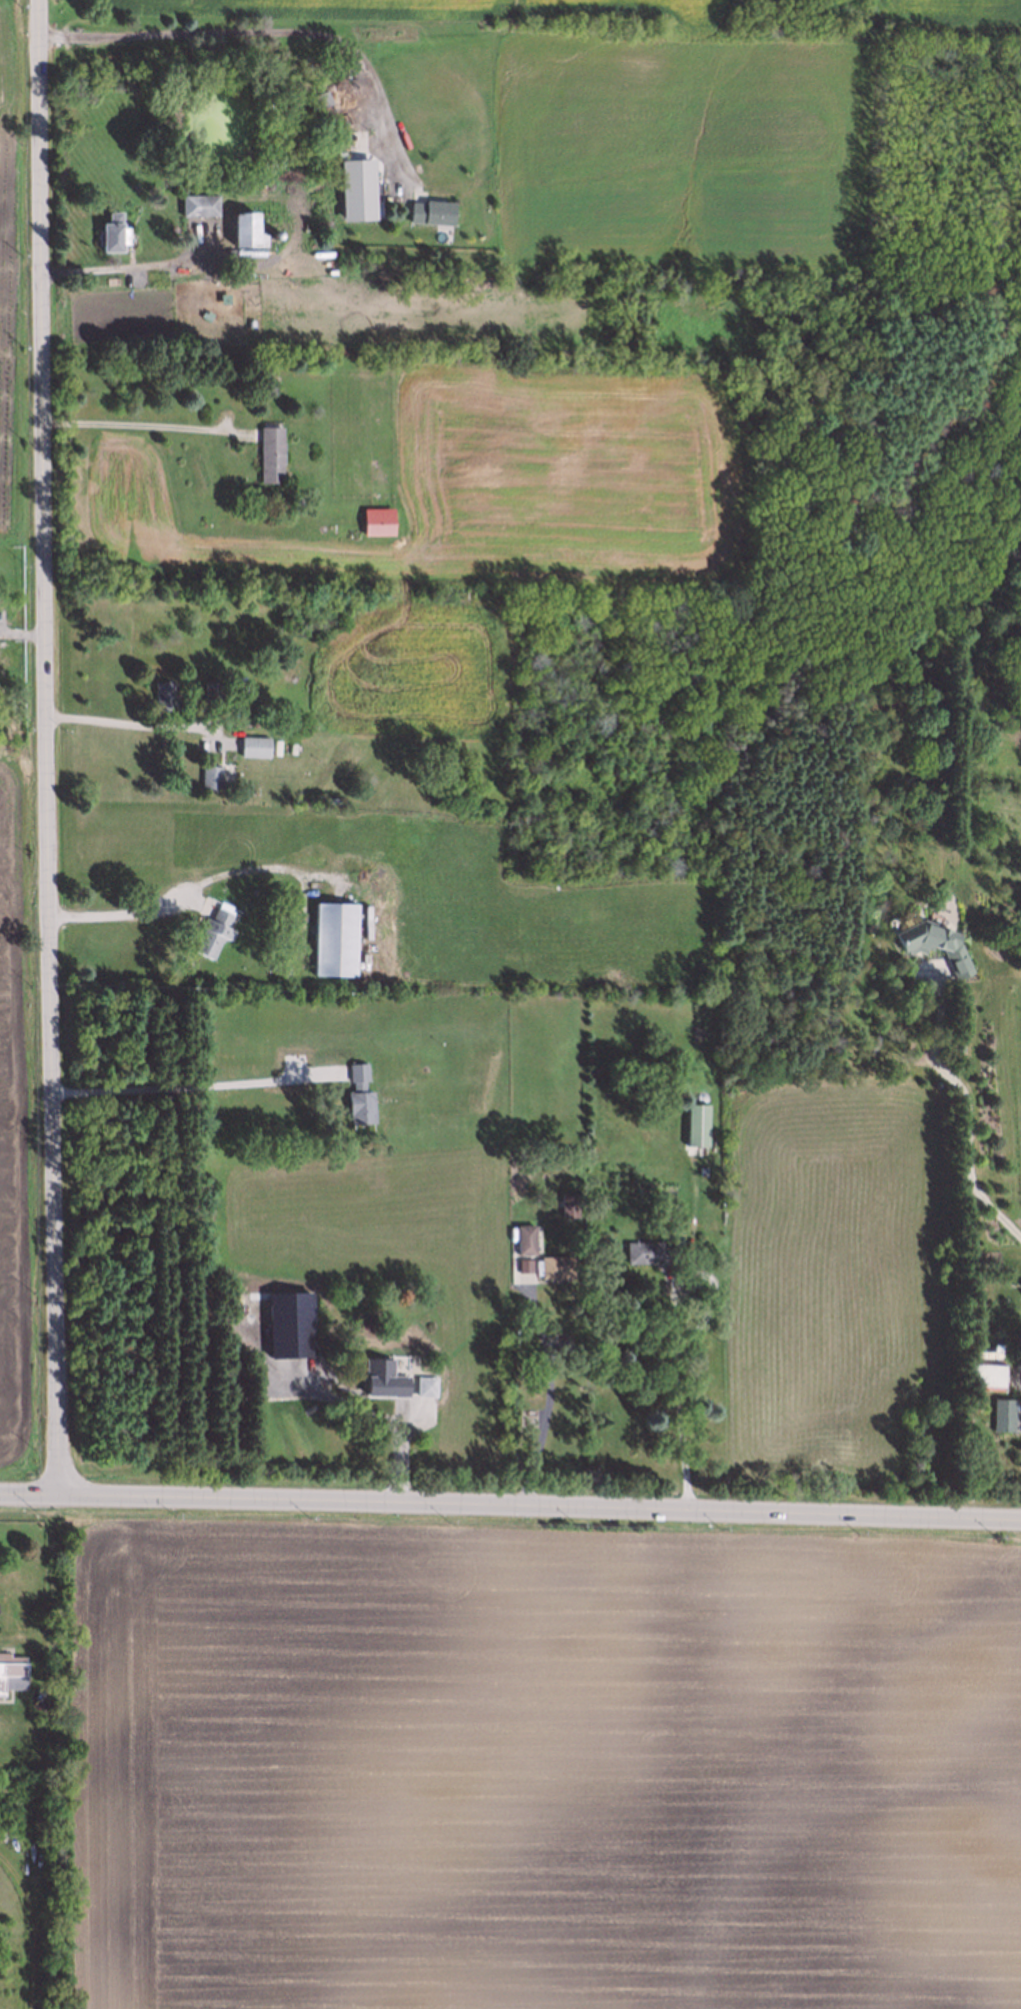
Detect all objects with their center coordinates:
road: (250, 34)
building: (321, 100)
building: (352, 107)
building: (342, 172)
building: (199, 206)
building: (428, 211)
building: (244, 229)
building: (273, 231)
building: (110, 233)
road: (122, 268)
road: (142, 425)
building: (267, 453)
building: (369, 524)
building: (240, 687)
building: (210, 690)
building: (161, 696)
building: (261, 710)
road: (124, 722)
building: (253, 746)
road: (42, 747)
building: (208, 777)
road: (175, 897)
building: (210, 931)
building: (330, 938)
building: (932, 944)
road: (193, 1088)
building: (356, 1096)
road: (967, 1107)
building: (694, 1123)
building: (567, 1204)
building: (522, 1239)
building: (649, 1254)
building: (524, 1266)
building: (554, 1267)
building: (537, 1287)
building: (290, 1325)
building: (1016, 1344)
building: (983, 1374)
building: (382, 1378)
building: (422, 1385)
road: (672, 1394)
road: (546, 1395)
building: (997, 1410)
road: (510, 1507)
building: (11, 1670)

